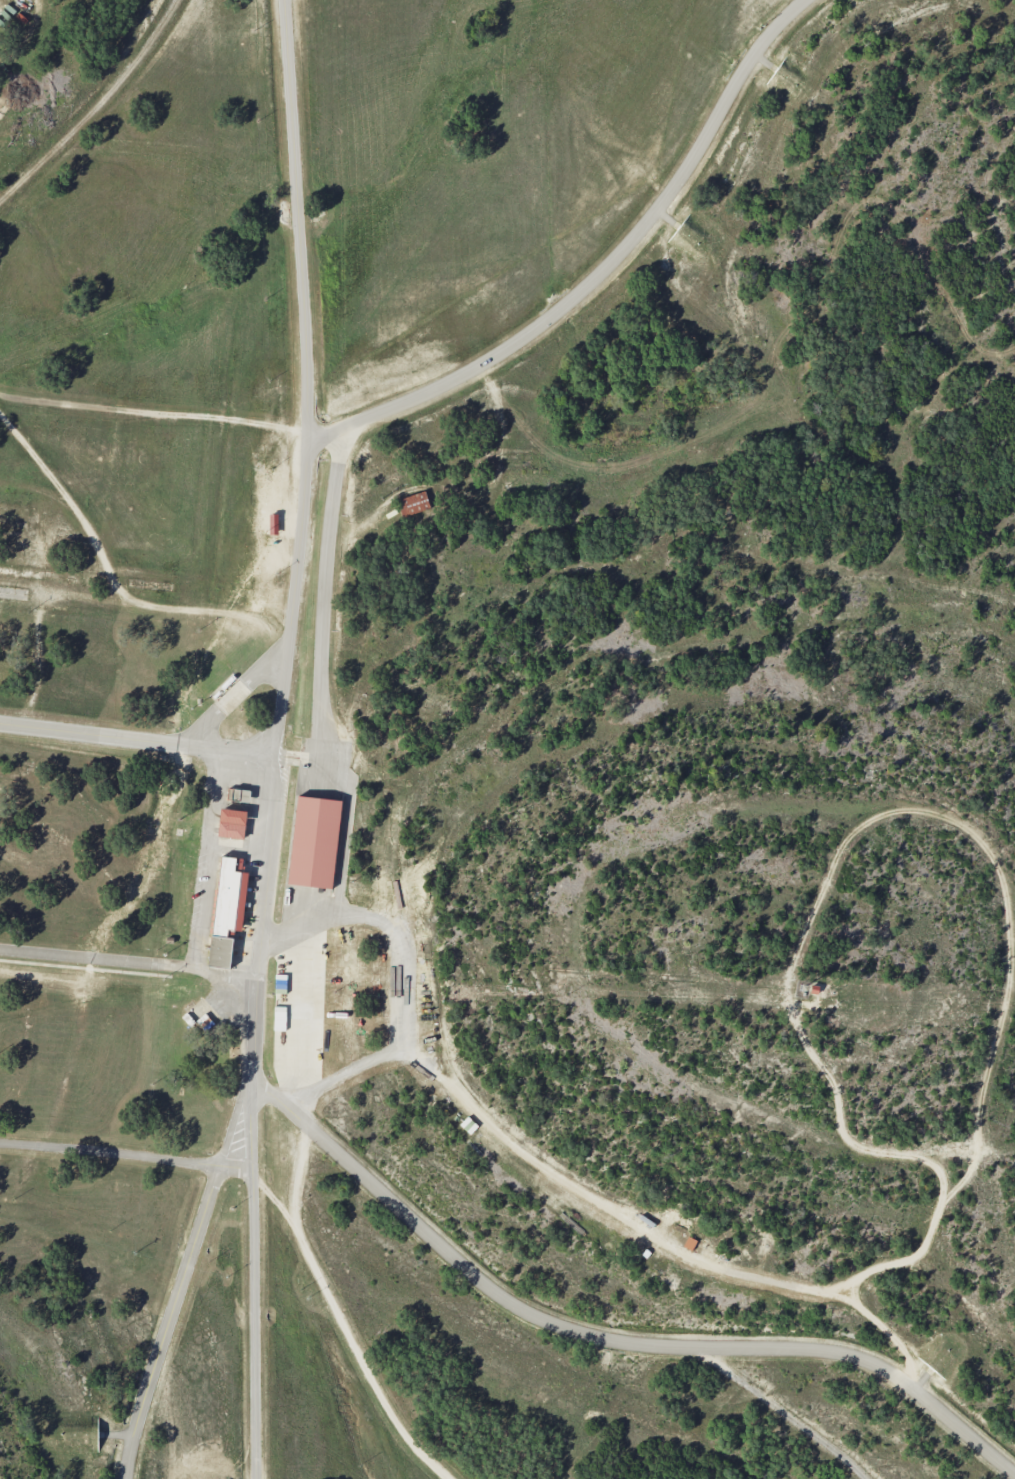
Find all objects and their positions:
road: (604, 273)
road: (498, 469)
building: (413, 503)
road: (99, 598)
road: (322, 675)
road: (233, 694)
road: (275, 738)
road: (136, 739)
building: (232, 823)
building: (314, 842)
building: (228, 909)
building: (169, 933)
road: (127, 962)
road: (342, 1072)
road: (111, 1153)
road: (974, 1162)
road: (184, 1283)
road: (341, 1313)
road: (610, 1339)
road: (782, 1411)

